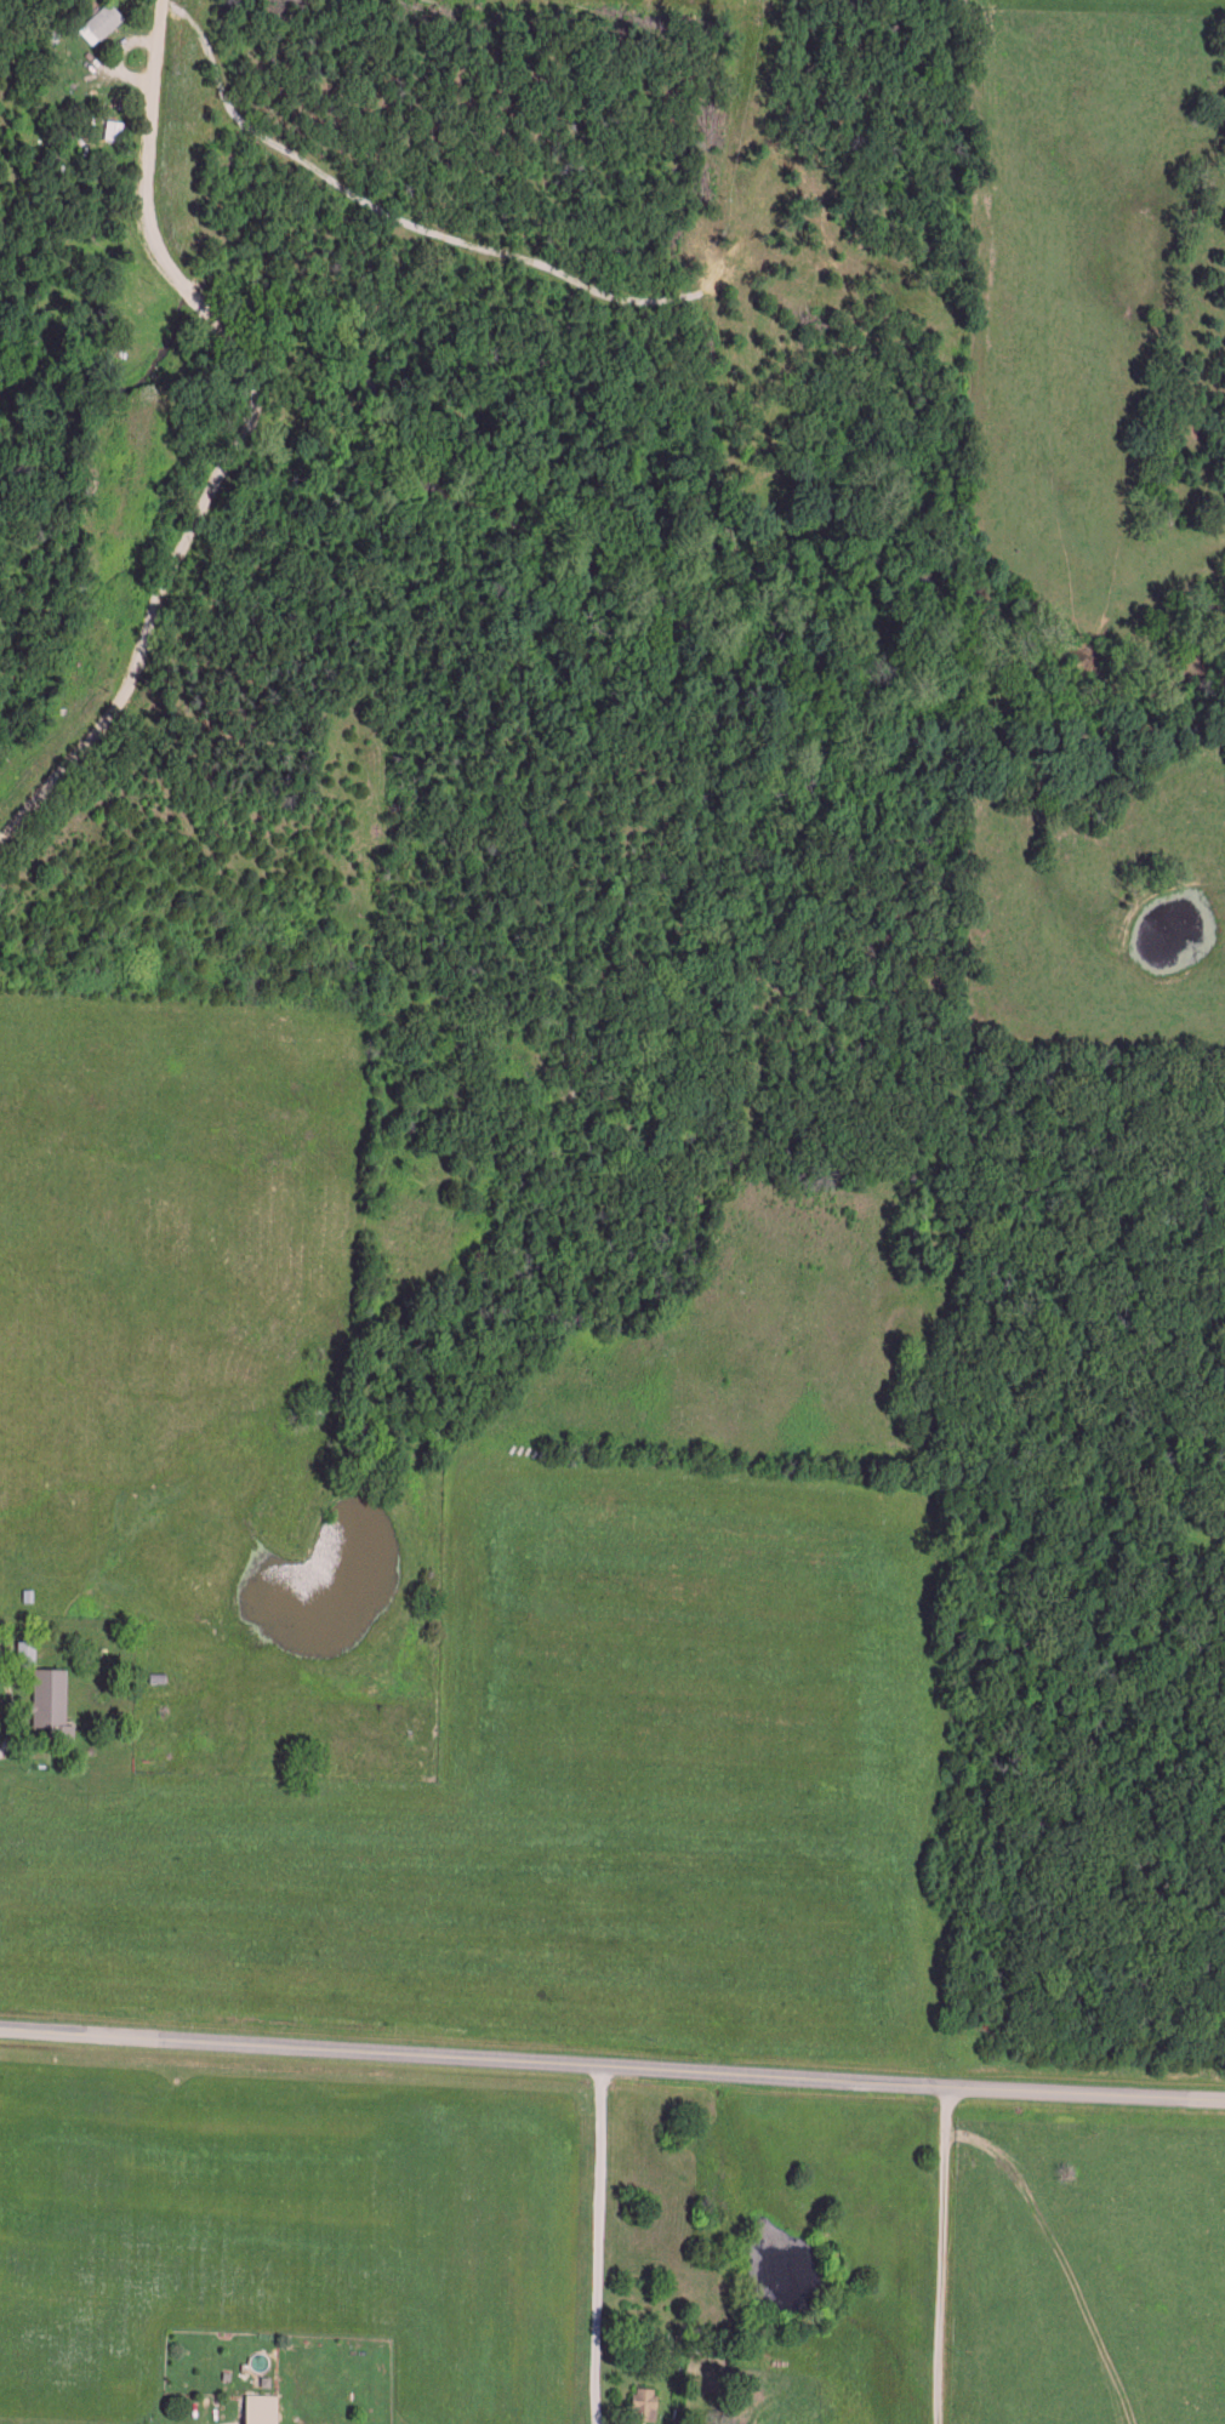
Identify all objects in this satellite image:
building: (101, 19)
building: (113, 127)
road: (239, 440)
building: (50, 1694)
road: (24, 1706)
road: (611, 2070)
road: (600, 2247)
road: (945, 2258)
building: (645, 2400)
building: (261, 2407)
road: (220, 2416)

